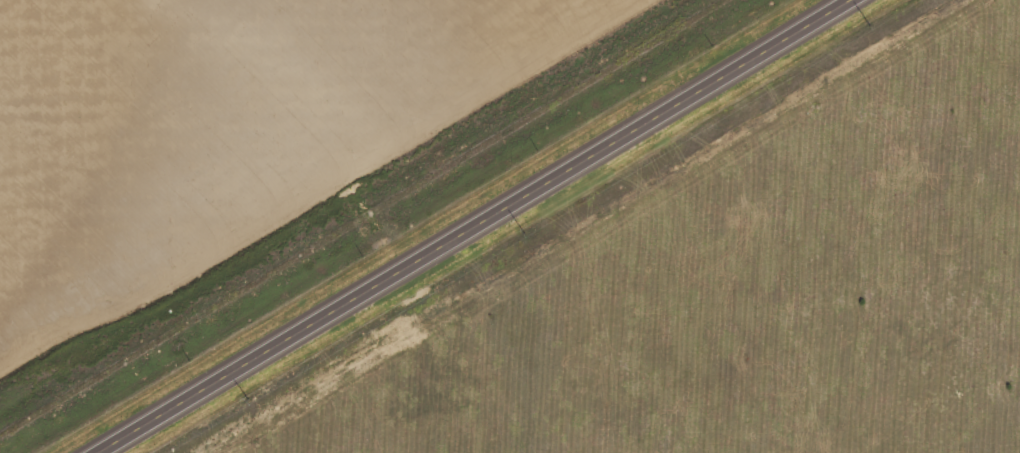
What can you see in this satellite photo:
power tower: (867, 23)
road: (477, 226)
power tower: (520, 231)
power tower: (246, 397)

